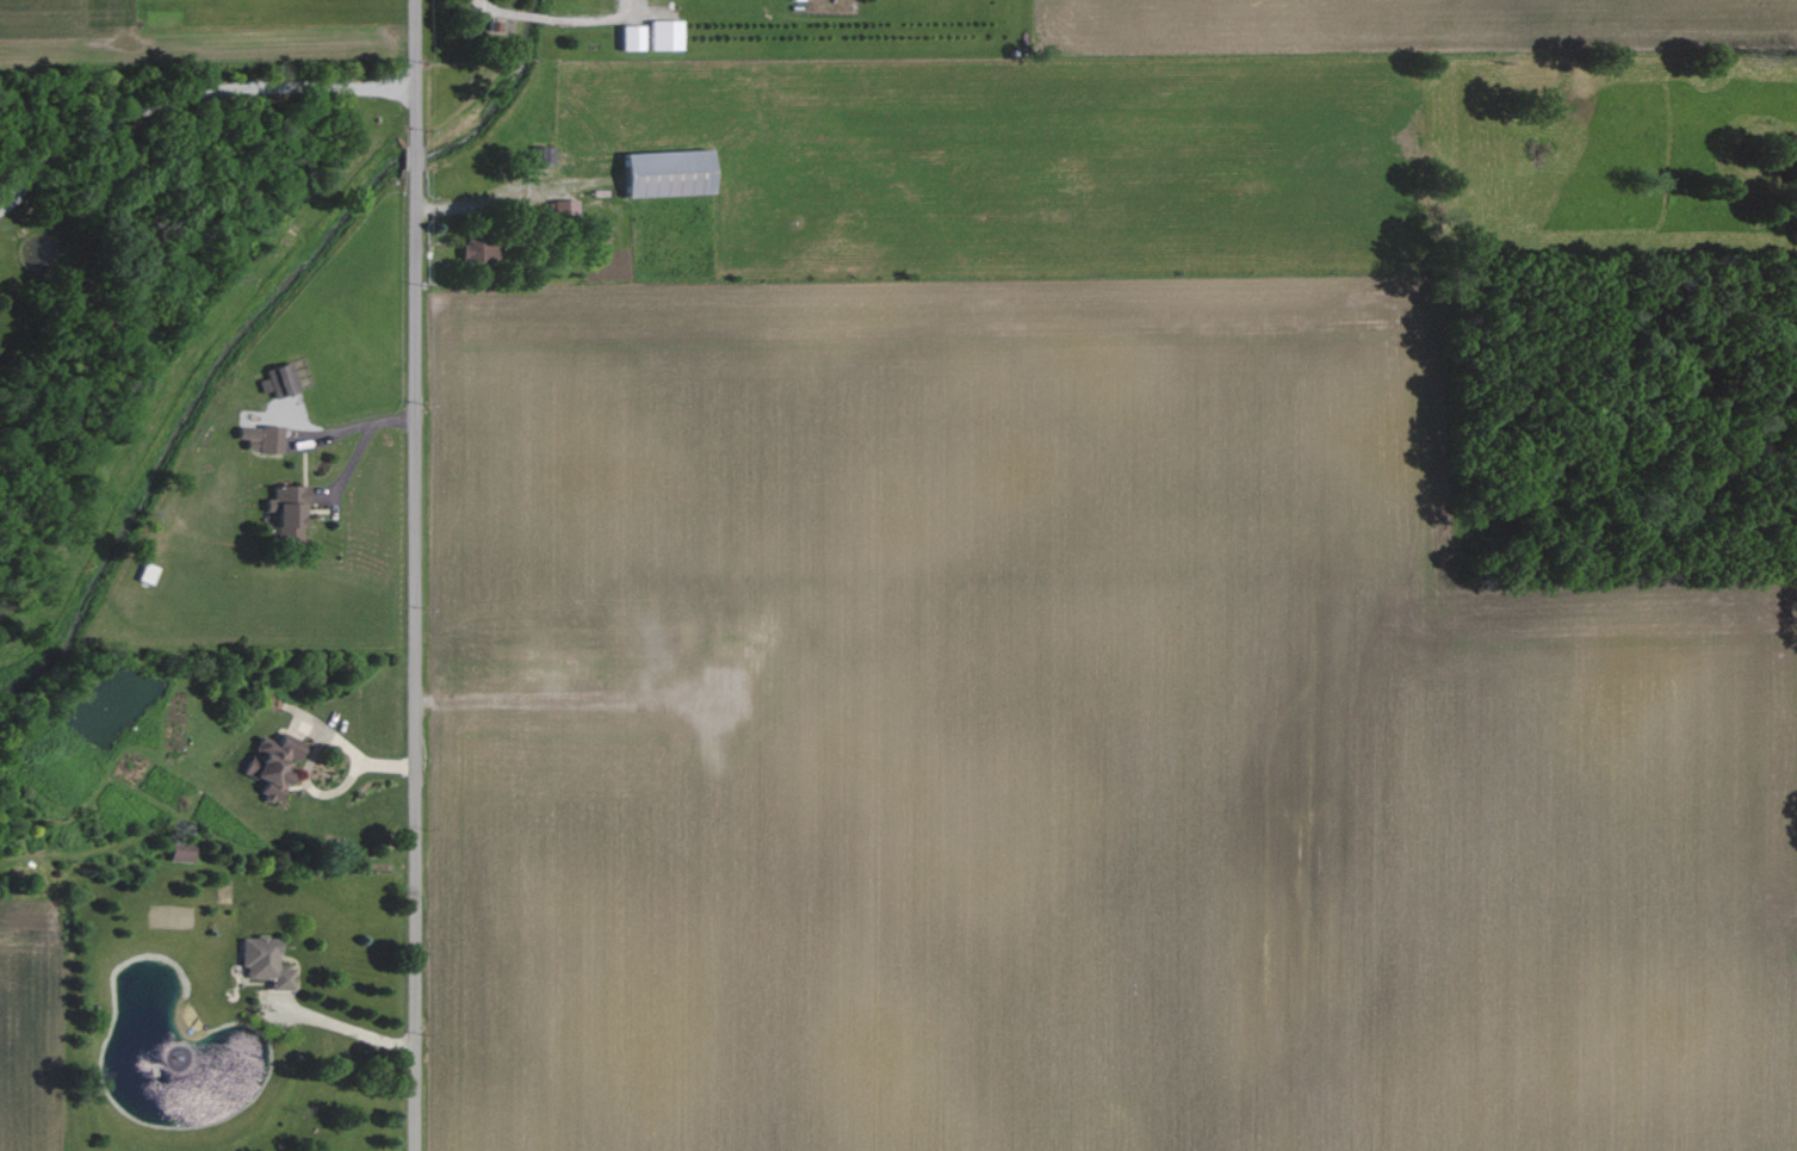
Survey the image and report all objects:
building: (667, 35)
building: (634, 37)
road: (187, 97)
building: (541, 154)
building: (671, 173)
building: (565, 209)
building: (482, 250)
building: (281, 380)
building: (264, 438)
building: (290, 512)
building: (149, 573)
road: (416, 575)
building: (275, 765)
building: (184, 850)
building: (266, 960)

